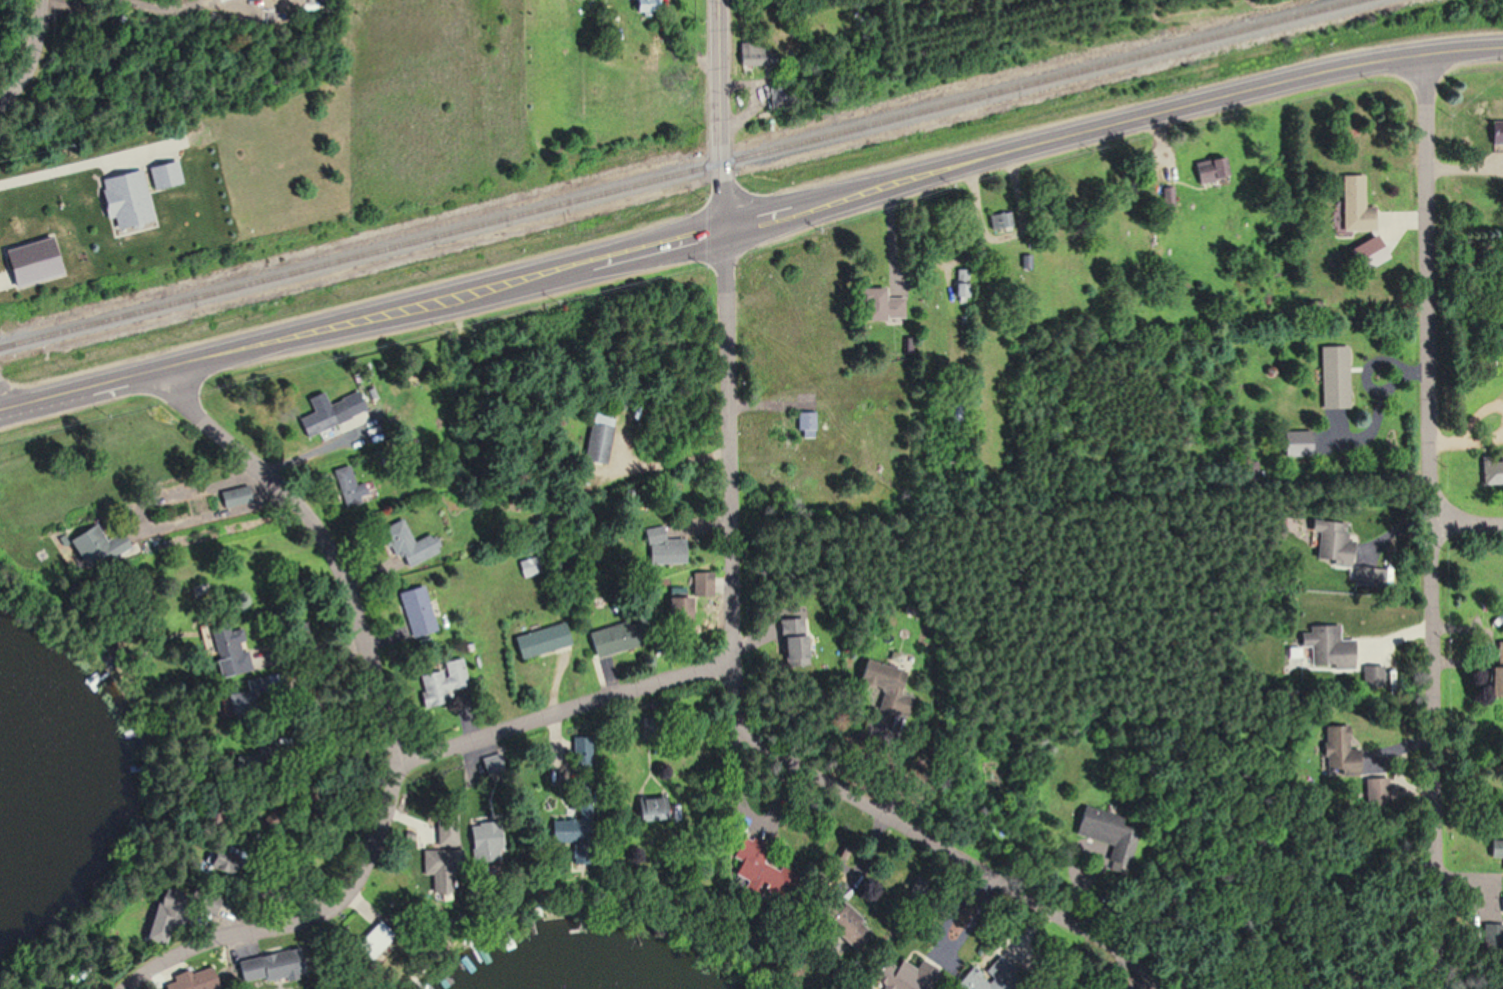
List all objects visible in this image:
building: (644, 6)
building: (757, 54)
road: (30, 55)
building: (763, 118)
building: (1496, 137)
road: (69, 163)
building: (1212, 171)
railway: (681, 172)
building: (1354, 205)
road: (750, 220)
building: (1002, 220)
building: (1366, 254)
building: (29, 261)
building: (877, 304)
road: (726, 332)
building: (1333, 377)
road: (0, 407)
building: (331, 413)
building: (806, 425)
building: (599, 439)
building: (1492, 471)
building: (234, 496)
road: (1431, 520)
road: (1467, 523)
road: (154, 524)
building: (1331, 541)
building: (407, 543)
building: (656, 544)
building: (88, 545)
building: (416, 611)
building: (676, 611)
building: (612, 639)
building: (539, 640)
building: (1326, 648)
building: (793, 650)
building: (227, 652)
building: (1496, 675)
building: (878, 677)
building: (440, 682)
road: (560, 705)
road: (385, 718)
building: (579, 753)
building: (645, 809)
building: (1106, 833)
road: (928, 838)
building: (1495, 849)
building: (747, 857)
building: (222, 862)
building: (436, 868)
building: (205, 900)
building: (1501, 902)
building: (825, 906)
building: (162, 920)
building: (368, 940)
building: (267, 965)
building: (910, 975)
building: (191, 979)

